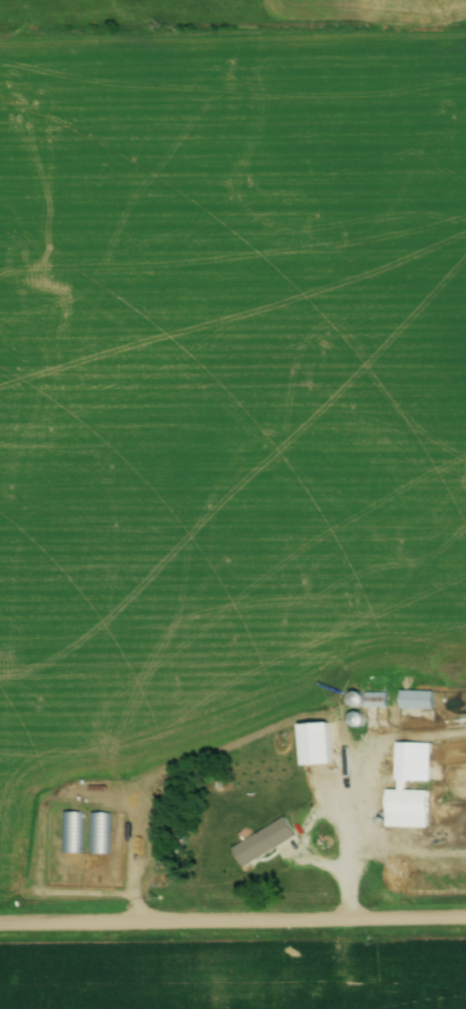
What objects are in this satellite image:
building: (373, 699)
building: (353, 718)
building: (309, 735)
building: (259, 843)
road: (300, 845)
road: (343, 904)
road: (232, 922)

